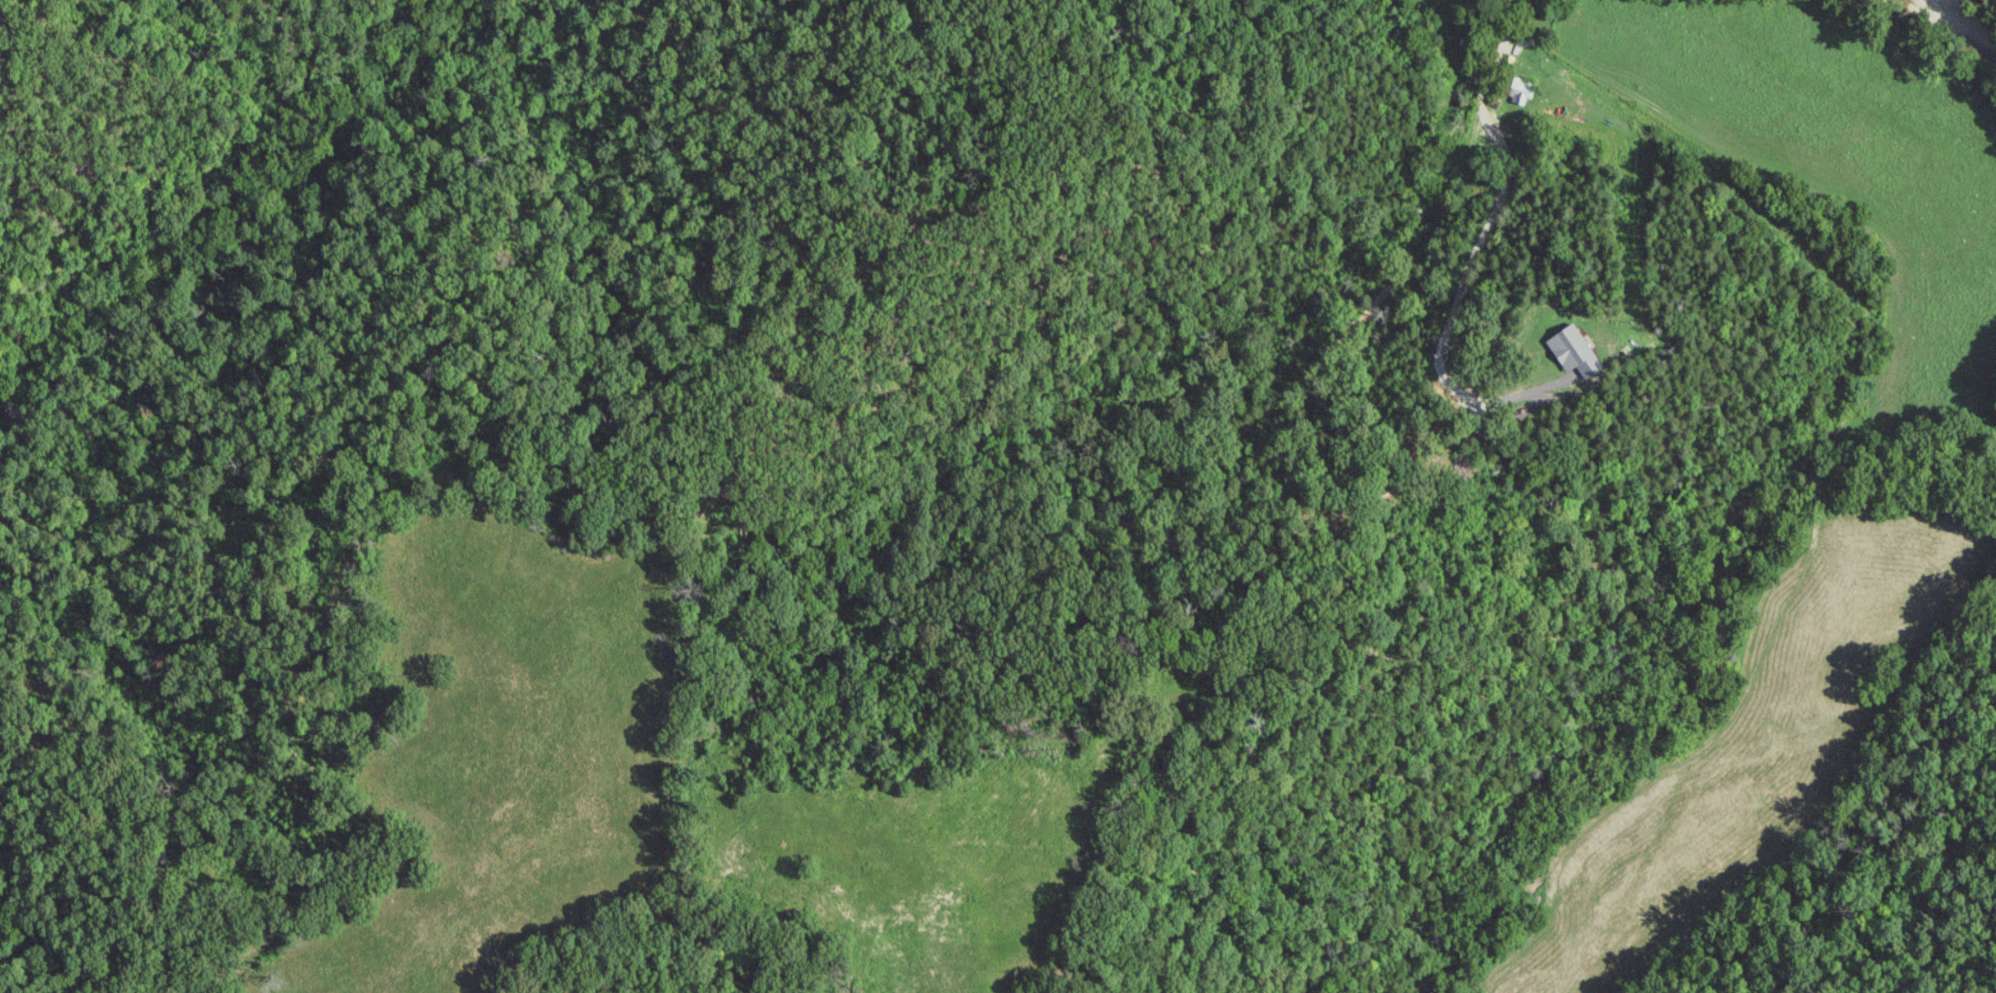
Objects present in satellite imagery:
road: (1846, 16)
road: (1970, 19)
building: (1577, 353)
road: (1850, 408)

